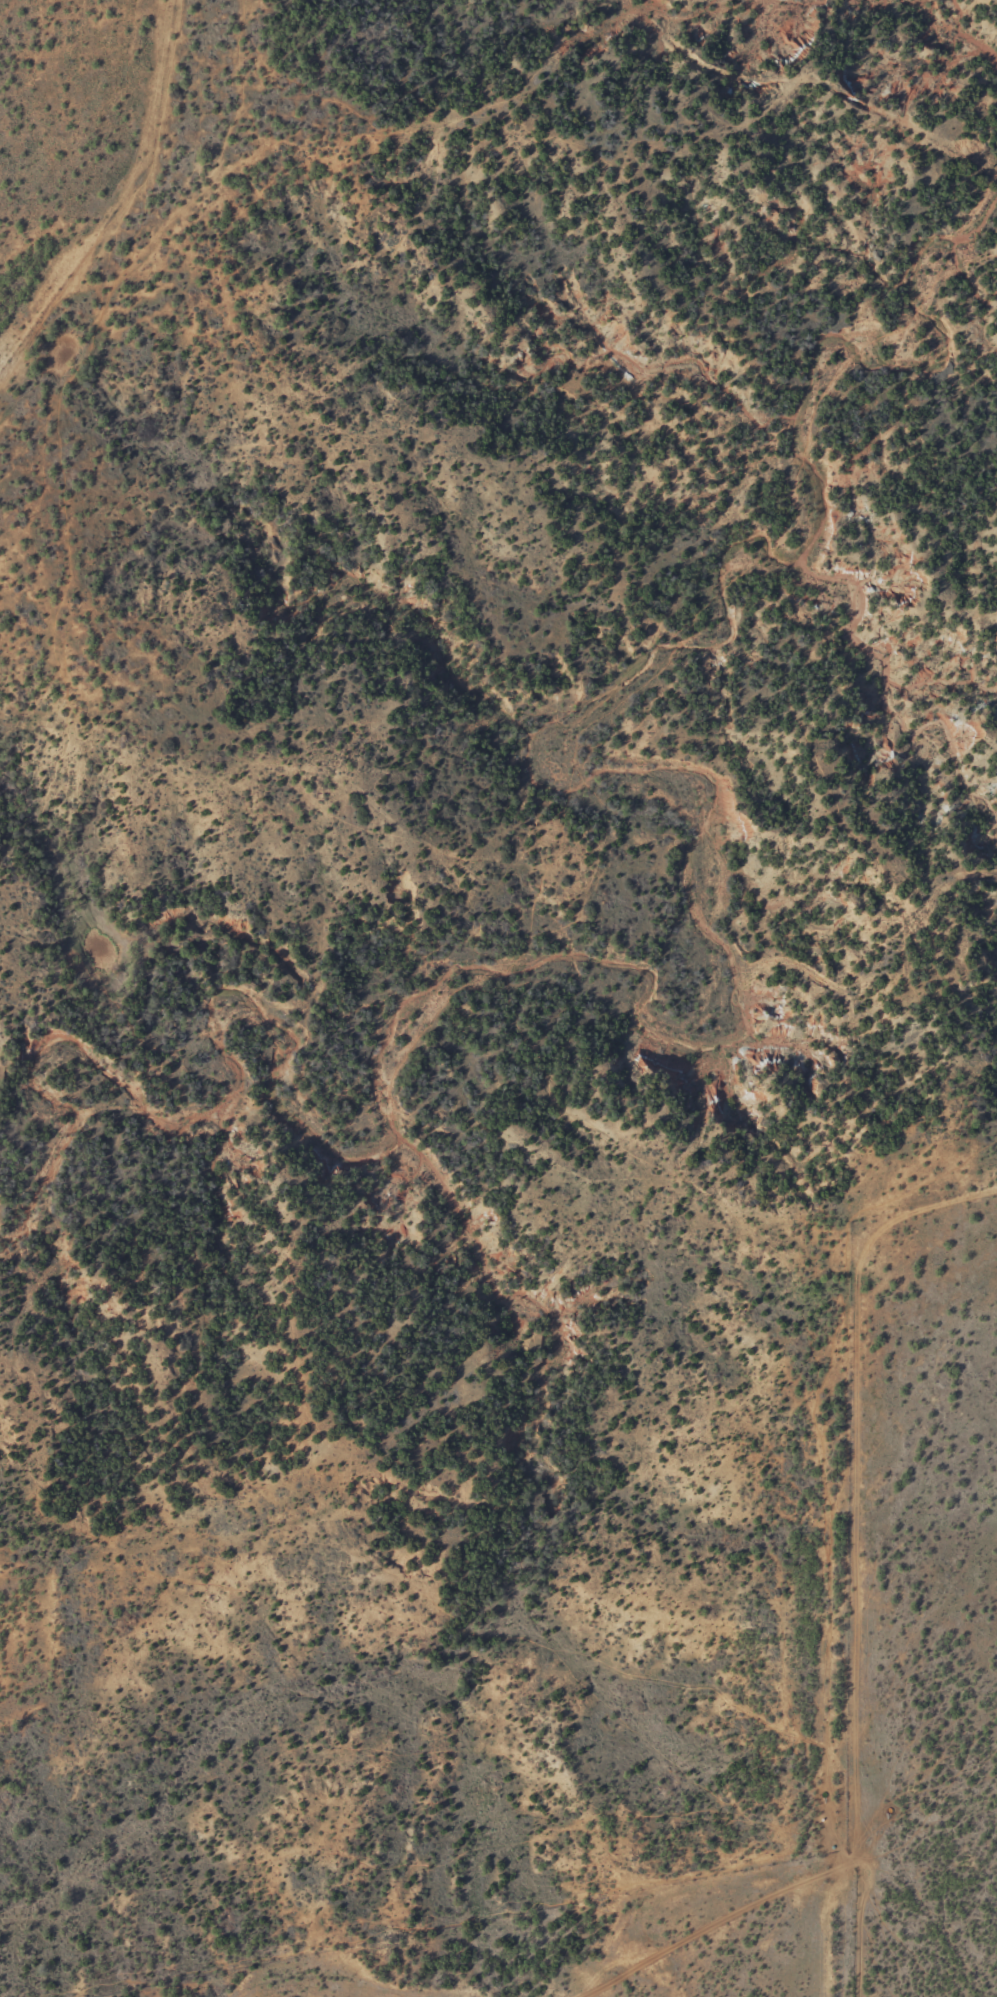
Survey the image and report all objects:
road: (528, 1507)

